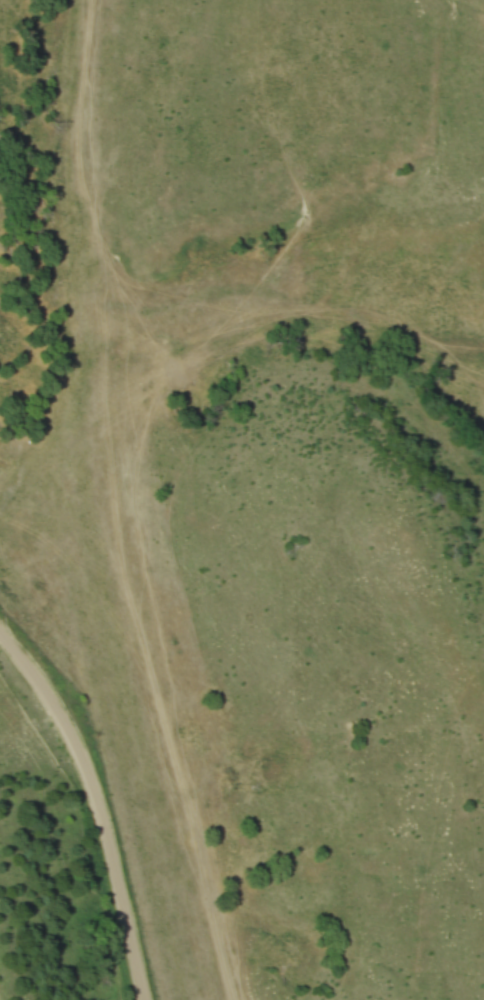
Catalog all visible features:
road: (102, 805)

